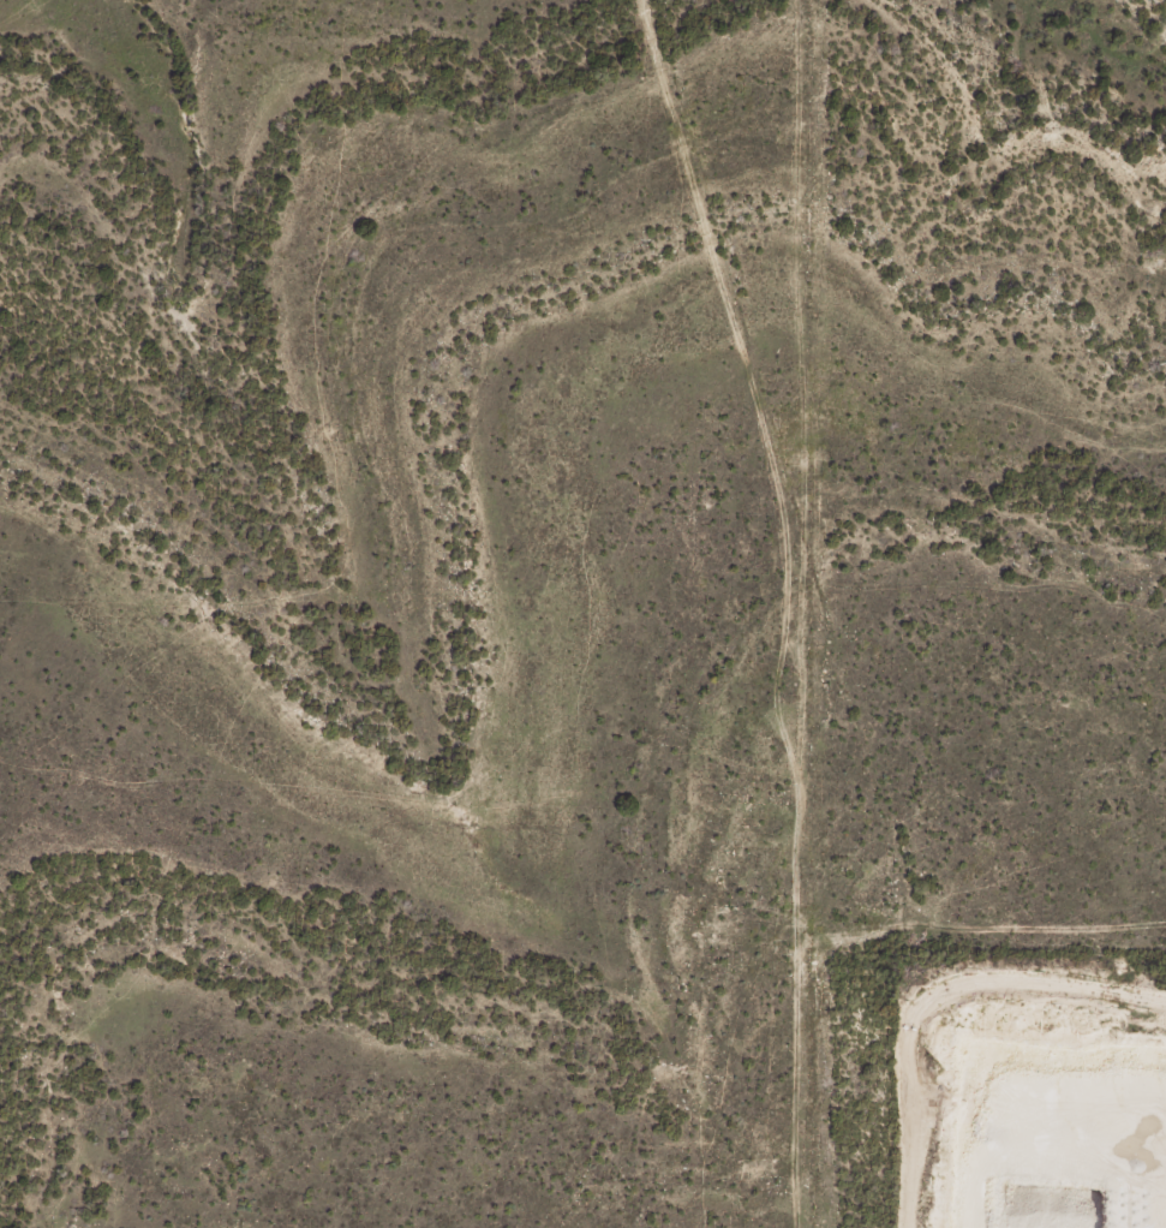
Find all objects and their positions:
road: (928, 1113)

